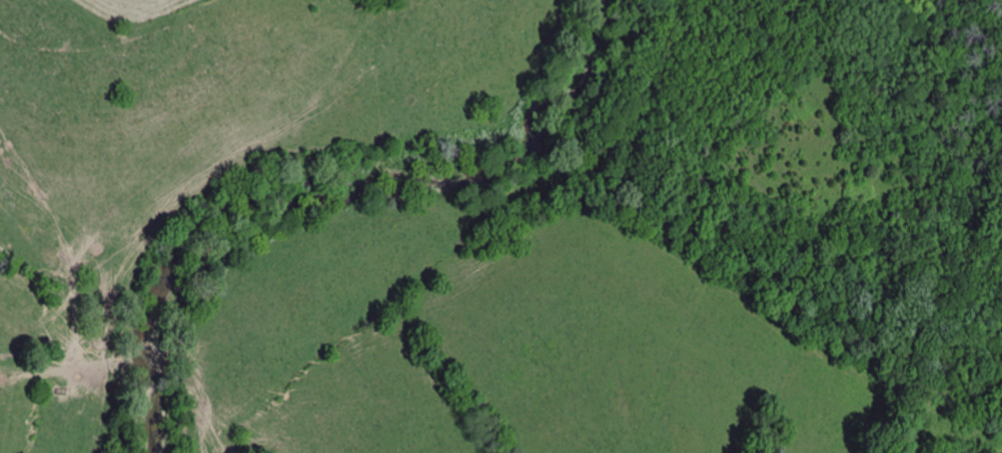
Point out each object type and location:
road: (804, 310)

